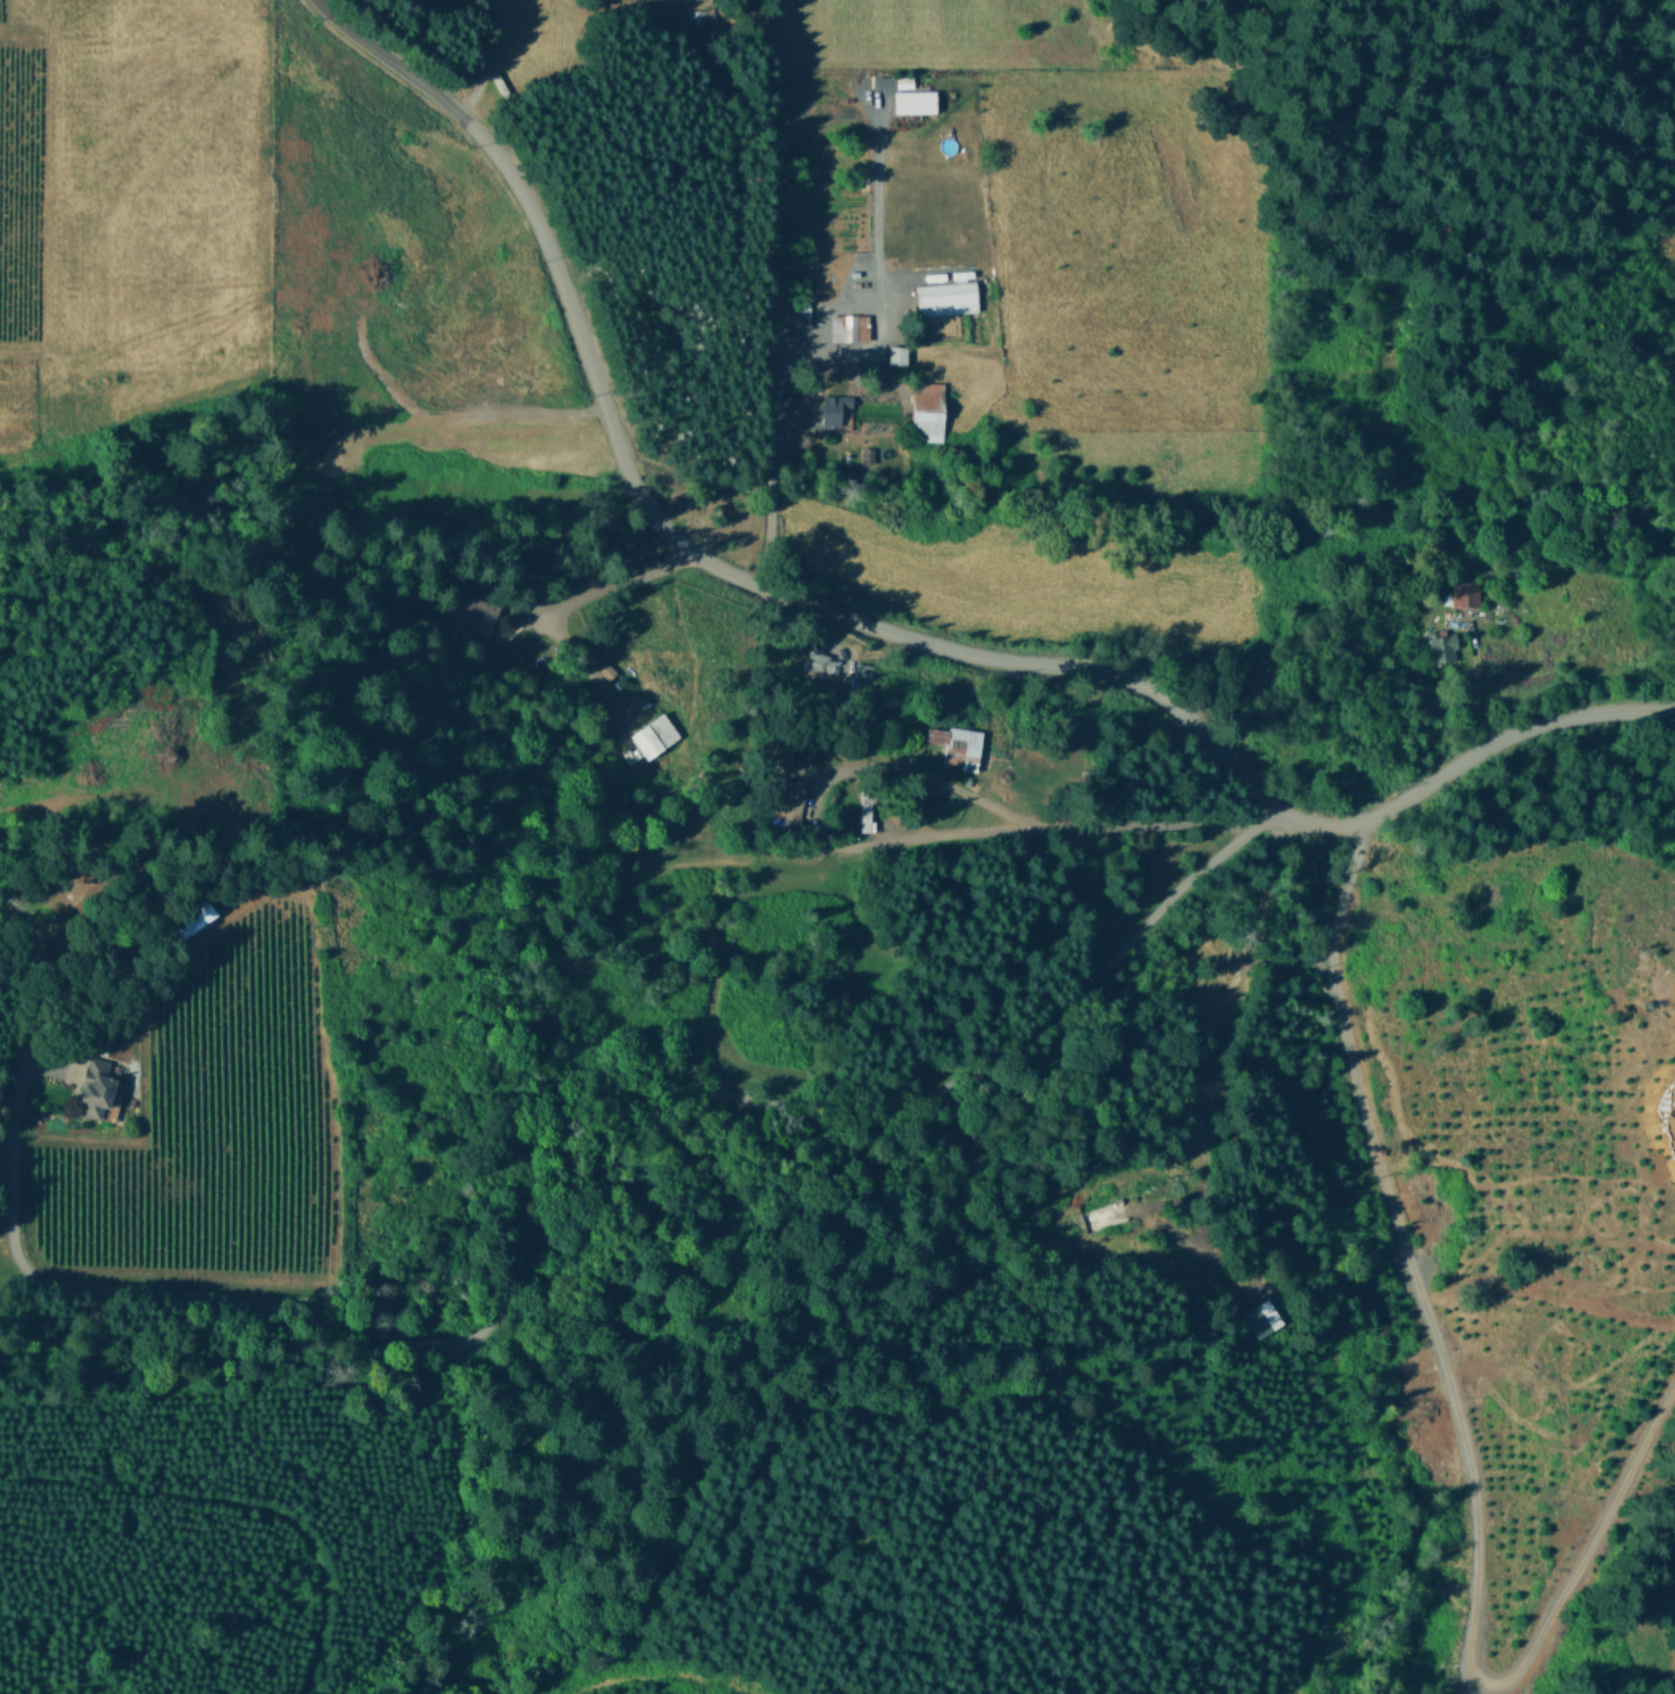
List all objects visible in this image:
road: (487, 61)
building: (913, 100)
building: (947, 297)
building: (849, 326)
building: (897, 353)
road: (829, 363)
building: (833, 407)
building: (928, 410)
road: (621, 579)
building: (1465, 591)
road: (873, 625)
building: (1442, 645)
building: (654, 734)
building: (957, 744)
road: (878, 767)
building: (788, 800)
building: (864, 812)
road: (1066, 829)
building: (194, 921)
road: (1216, 1031)
road: (577, 1178)
building: (1263, 1316)
road: (1458, 1428)

